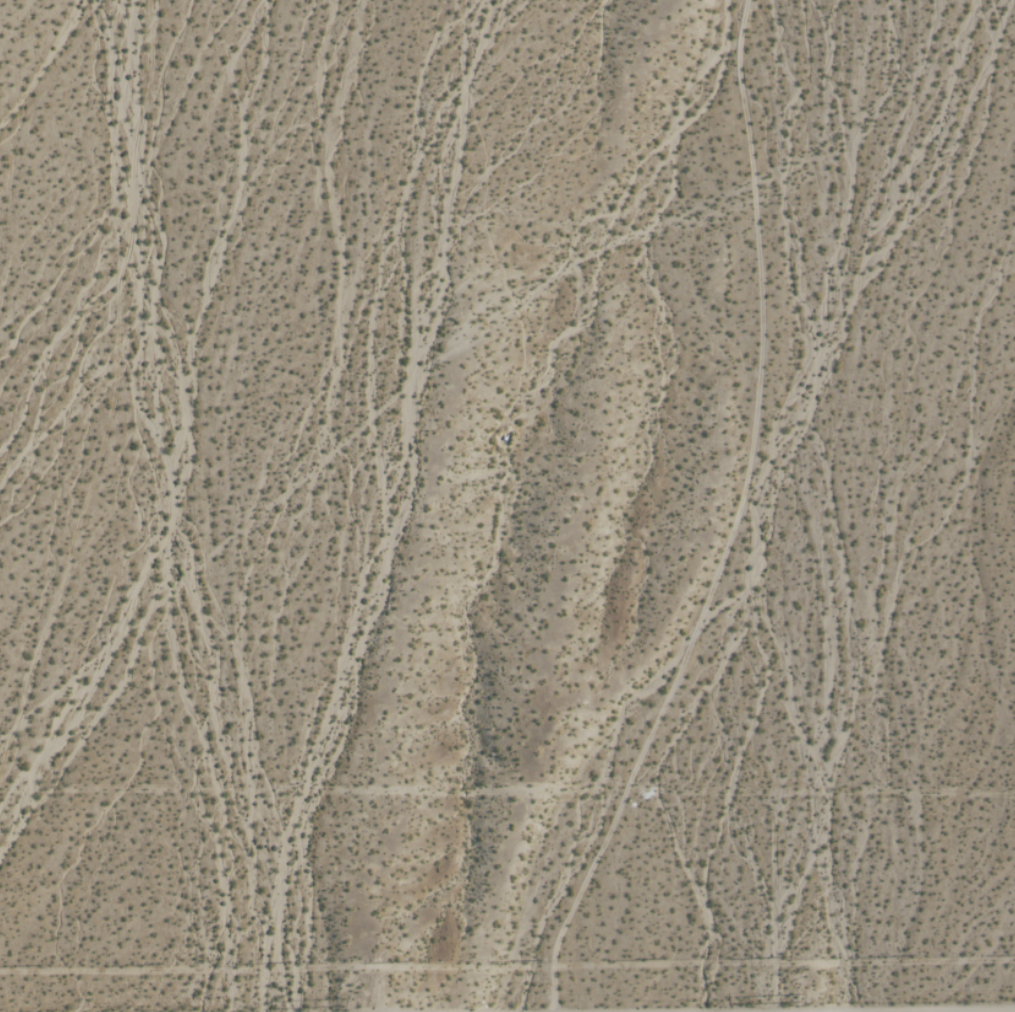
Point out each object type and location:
power tower: (796, 1000)
power tower: (340, 1001)
road: (910, 1010)

